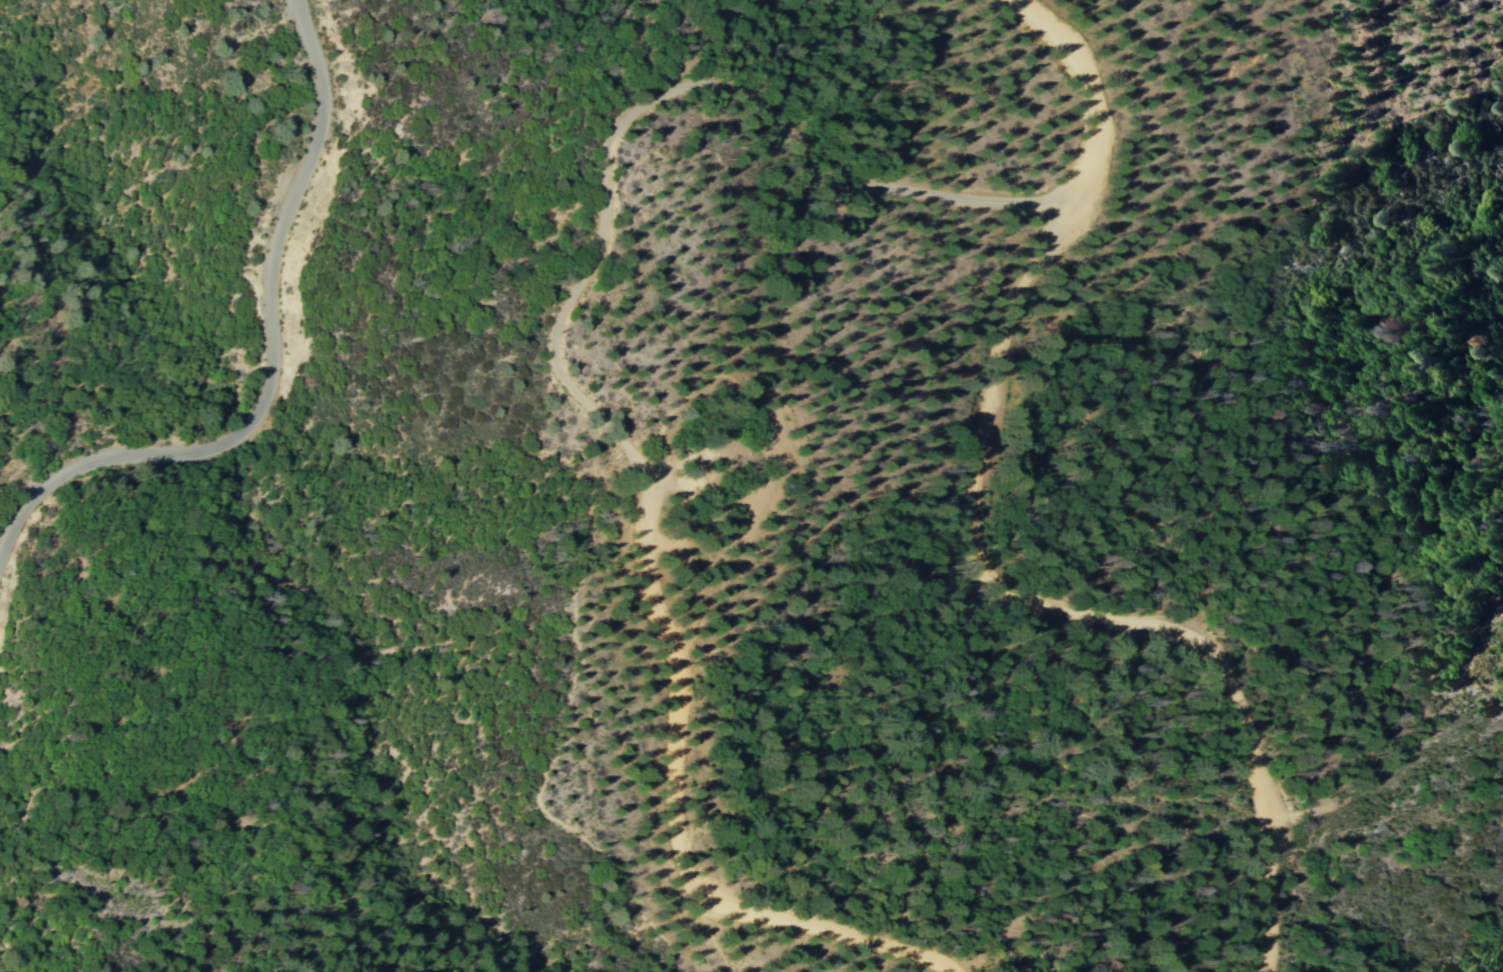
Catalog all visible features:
road: (578, 286)
road: (277, 366)
road: (1069, 609)

